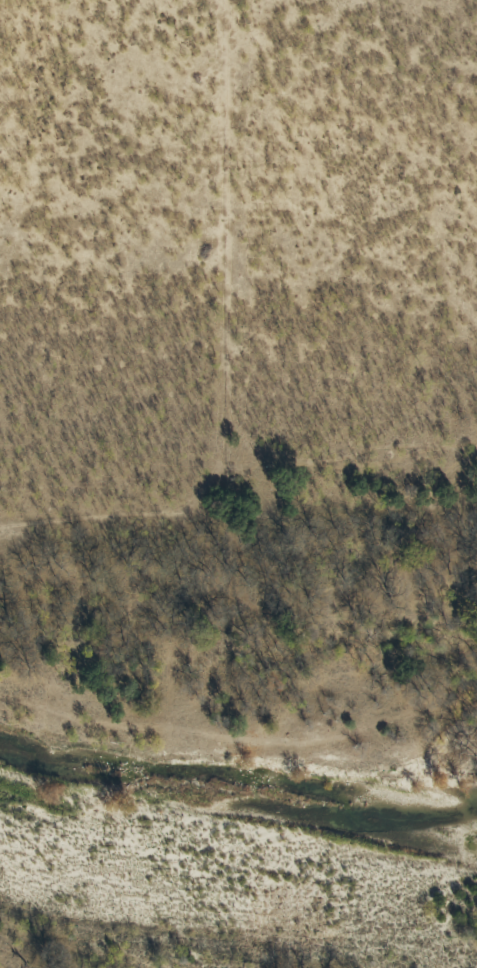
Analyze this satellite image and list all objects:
river: (238, 798)

